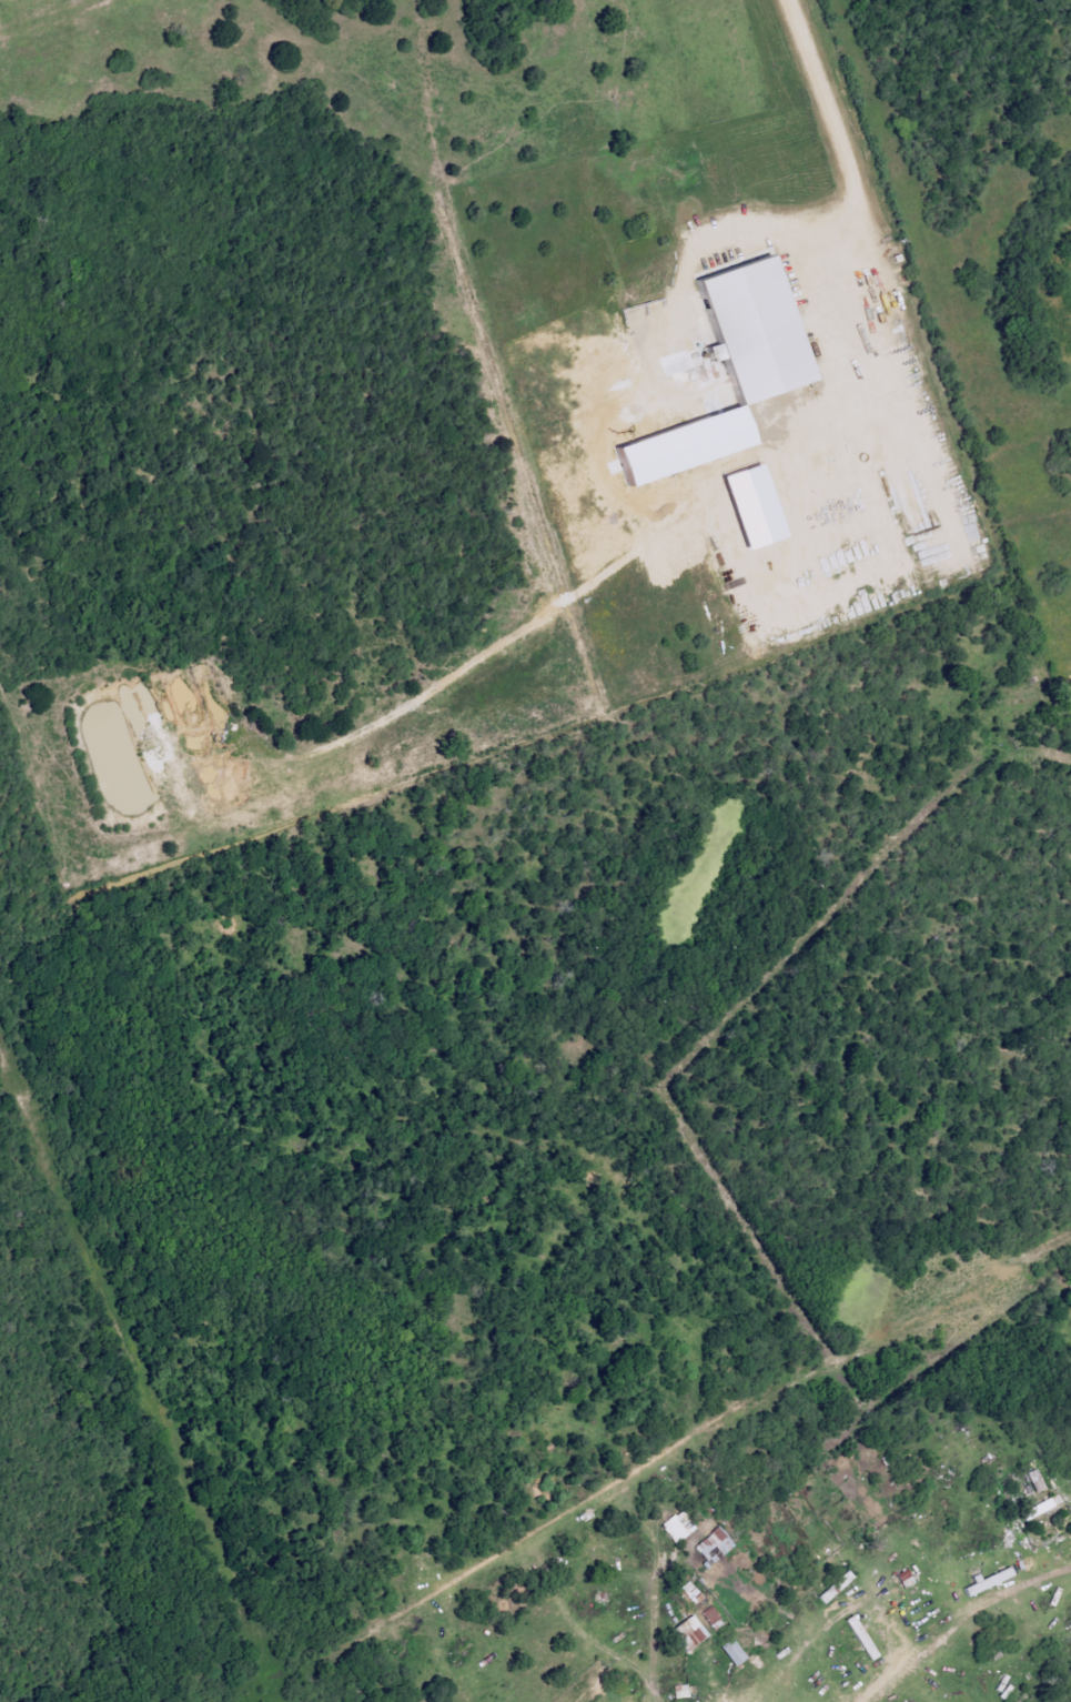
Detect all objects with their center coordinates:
road: (850, 179)
building: (738, 369)
building: (759, 507)
building: (680, 1527)
building: (716, 1547)
building: (993, 1580)
building: (839, 1587)
road: (1019, 1588)
building: (714, 1618)
building: (693, 1633)
building: (865, 1638)
building: (736, 1652)
road: (873, 1681)
building: (683, 1691)

